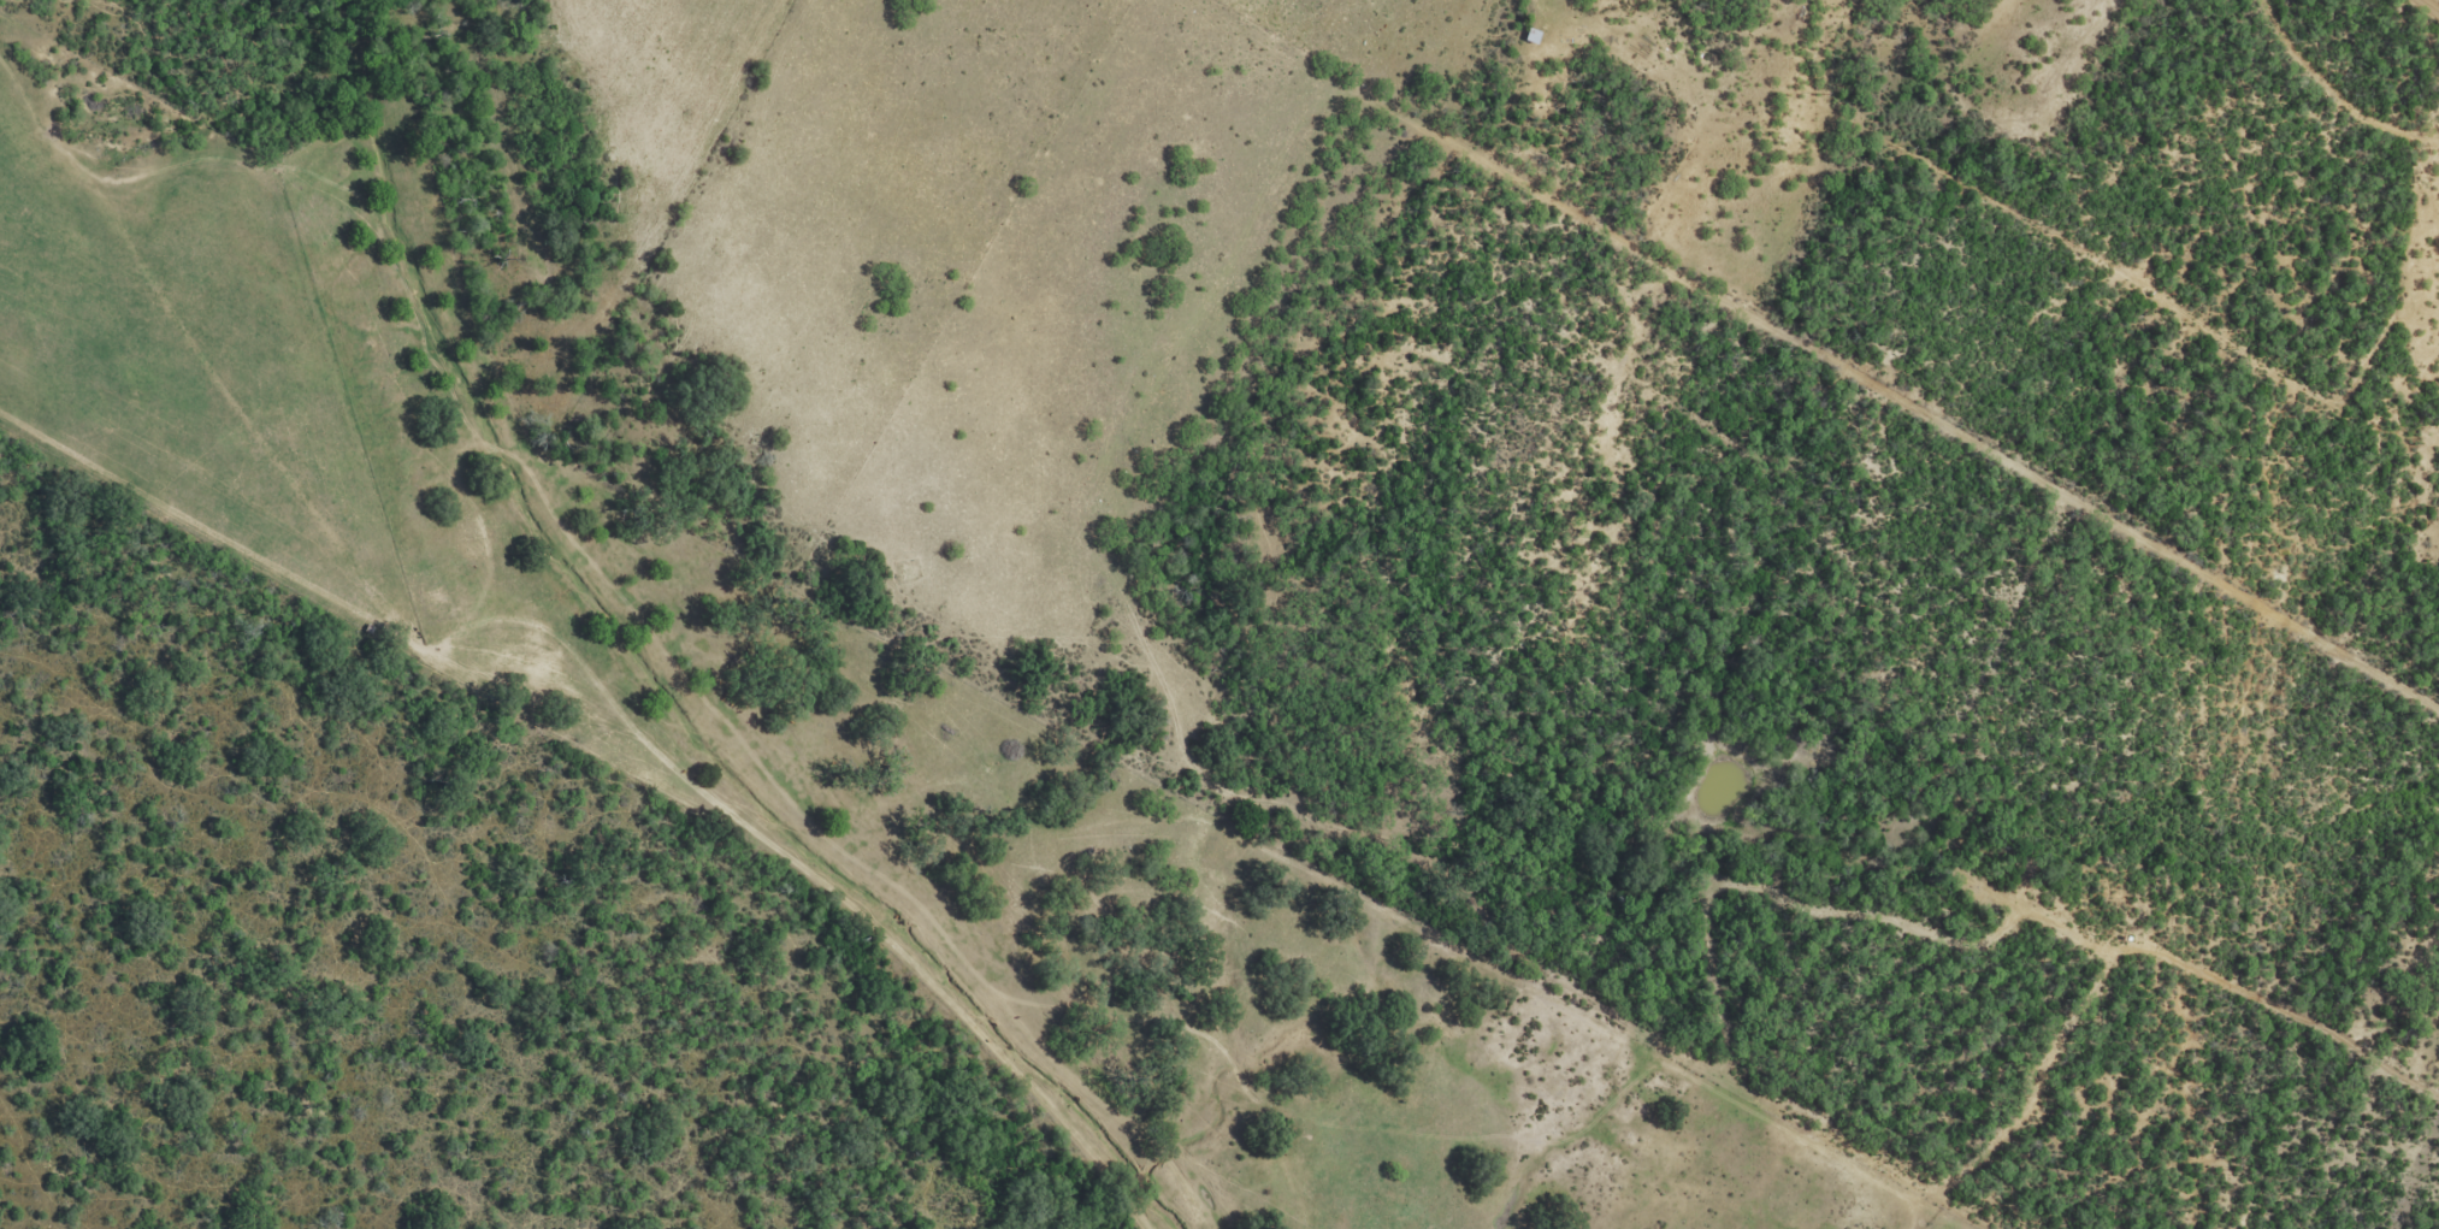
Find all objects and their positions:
road: (2428, 5)
river: (645, 680)
road: (2372, 1223)

